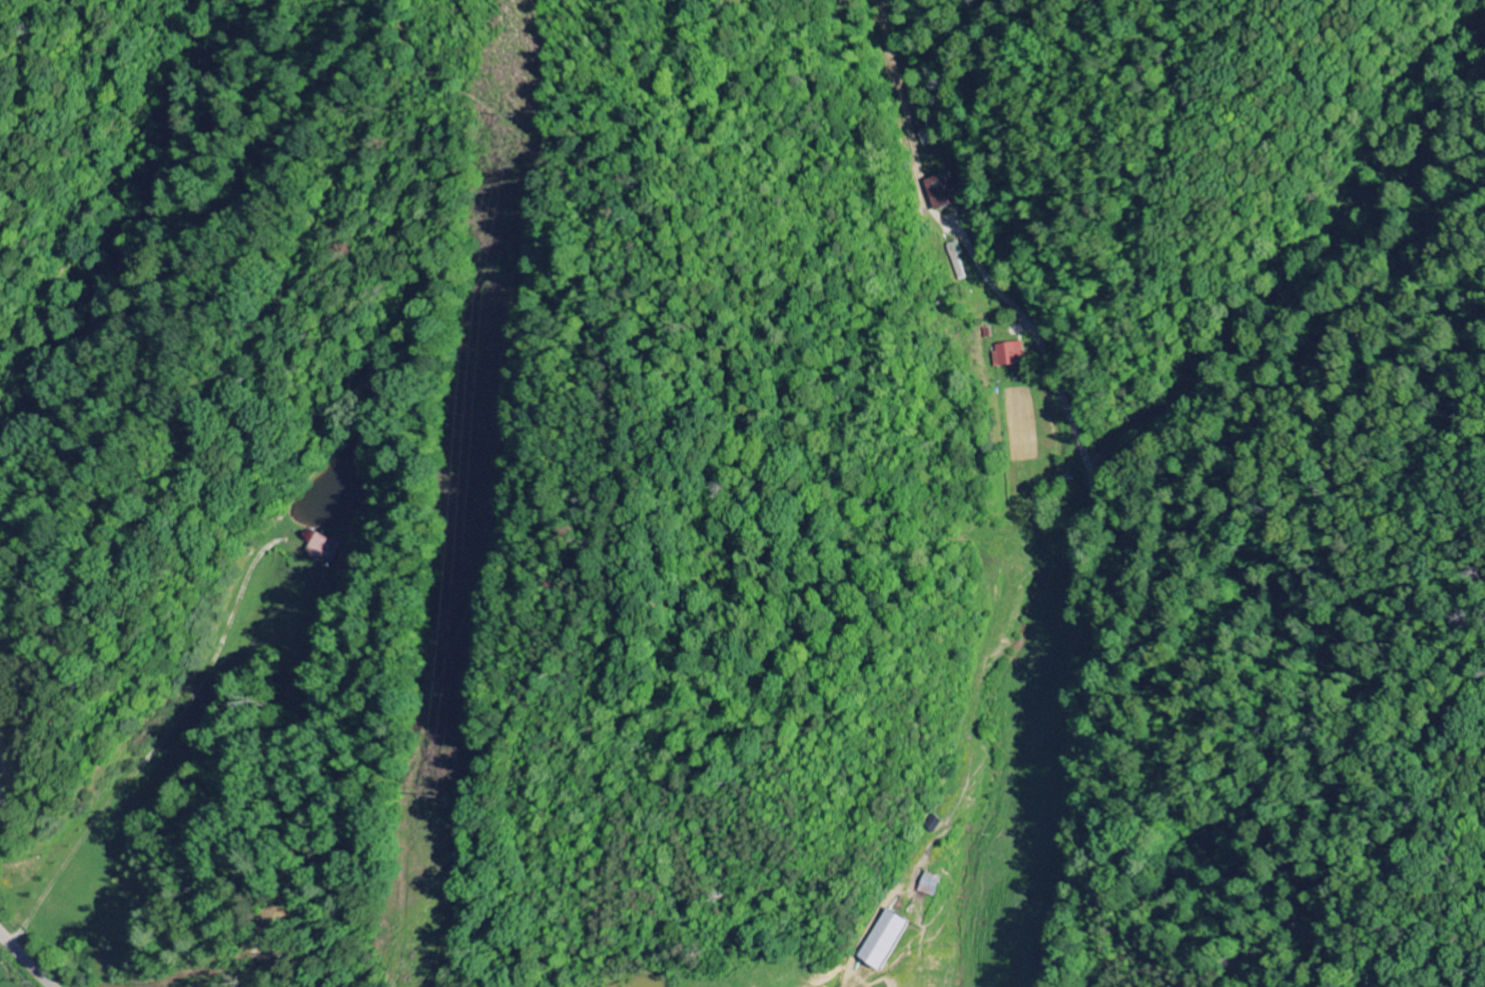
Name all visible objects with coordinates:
road: (904, 102)
building: (945, 191)
building: (1009, 355)
building: (323, 547)
road: (1091, 572)
power tower: (420, 795)
building: (932, 885)
building: (888, 939)
road: (28, 957)

